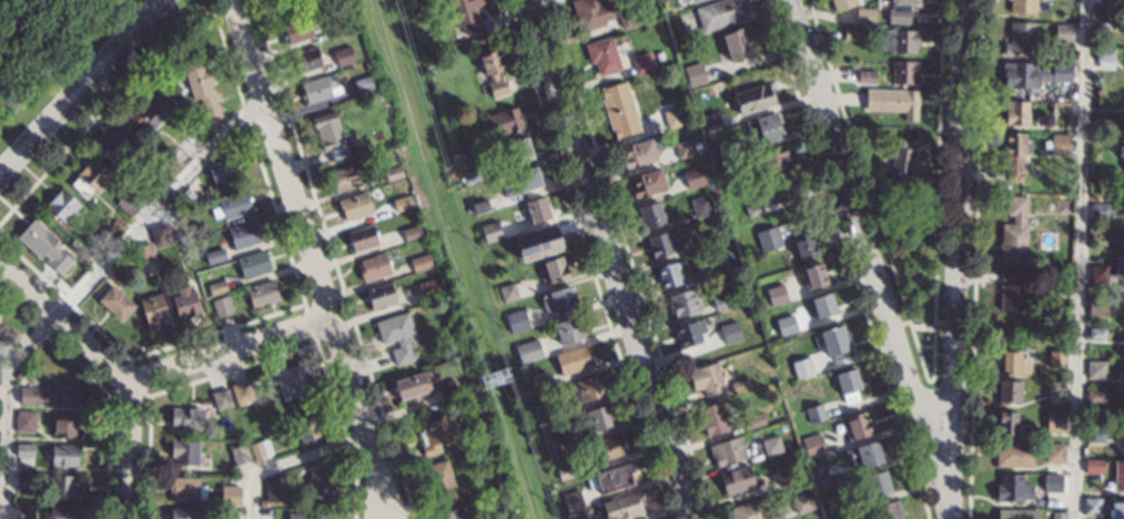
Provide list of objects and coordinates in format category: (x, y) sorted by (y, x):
building: (1105, 0)
building: (695, 1)
building: (416, 2)
building: (842, 3)
building: (1022, 6)
building: (900, 11)
building: (466, 13)
building: (590, 13)
building: (721, 13)
building: (864, 16)
building: (628, 18)
building: (1105, 22)
building: (335, 29)
building: (297, 30)
building: (1063, 32)
building: (852, 33)
building: (1020, 40)
building: (899, 41)
building: (736, 45)
building: (602, 55)
building: (344, 57)
building: (1105, 58)
building: (307, 60)
building: (642, 63)
building: (494, 72)
building: (904, 72)
building: (1032, 74)
building: (695, 75)
building: (867, 77)
building: (363, 84)
road: (80, 85)
building: (201, 86)
building: (318, 88)
building: (377, 95)
building: (753, 100)
building: (892, 101)
building: (1060, 108)
building: (619, 110)
building: (151, 112)
building: (1016, 112)
building: (675, 118)
building: (1108, 118)
building: (504, 122)
building: (712, 123)
building: (764, 129)
building: (330, 135)
building: (1055, 143)
building: (115, 144)
building: (1015, 144)
building: (463, 146)
building: (687, 147)
building: (520, 150)
building: (640, 152)
building: (718, 152)
building: (176, 154)
building: (1121, 154)
building: (776, 159)
building: (902, 164)
building: (165, 170)
building: (1013, 171)
building: (224, 173)
building: (393, 173)
building: (472, 176)
building: (91, 177)
building: (693, 177)
building: (344, 179)
building: (528, 180)
building: (648, 183)
building: (735, 183)
building: (781, 189)
building: (184, 196)
building: (130, 202)
building: (404, 203)
building: (235, 204)
building: (354, 206)
building: (480, 206)
building: (701, 206)
building: (62, 207)
building: (1098, 207)
building: (538, 210)
building: (755, 210)
building: (651, 214)
building: (117, 224)
building: (1014, 231)
building: (492, 232)
building: (411, 233)
building: (107, 234)
building: (160, 234)
building: (244, 234)
building: (362, 237)
building: (712, 238)
building: (769, 238)
building: (180, 240)
building: (536, 244)
building: (660, 244)
building: (44, 245)
road: (870, 246)
building: (806, 247)
building: (82, 252)
building: (143, 254)
building: (215, 255)
road: (311, 258)
road: (609, 259)
road: (954, 259)
road: (1079, 259)
building: (419, 263)
building: (253, 264)
building: (374, 266)
building: (1118, 266)
building: (556, 269)
building: (671, 273)
building: (1097, 274)
building: (703, 276)
building: (816, 276)
building: (119, 277)
road: (82, 287)
building: (217, 287)
building: (429, 289)
building: (508, 292)
building: (1013, 293)
building: (262, 294)
building: (381, 295)
building: (776, 295)
building: (559, 299)
building: (721, 302)
building: (115, 303)
building: (185, 303)
building: (683, 303)
building: (823, 305)
building: (222, 306)
building: (1097, 306)
building: (154, 311)
building: (517, 320)
building: (786, 324)
building: (797, 326)
building: (568, 330)
building: (730, 332)
building: (8, 333)
building: (690, 333)
building: (1096, 334)
building: (396, 336)
building: (833, 342)
building: (2, 348)
building: (528, 352)
building: (1056, 358)
building: (574, 359)
building: (1013, 362)
building: (802, 368)
building: (1096, 369)
building: (1123, 373)
building: (1061, 375)
building: (19, 376)
building: (707, 379)
building: (291, 380)
building: (1122, 380)
road: (146, 381)
building: (537, 383)
building: (848, 385)
building: (411, 386)
building: (740, 386)
building: (1056, 387)
building: (590, 388)
power tower: (494, 389)
building: (1010, 390)
building: (242, 391)
building: (448, 393)
building: (51, 396)
building: (1095, 396)
building: (222, 398)
building: (1055, 398)
building: (1121, 404)
building: (547, 413)
building: (816, 413)
building: (600, 417)
building: (1055, 417)
building: (186, 418)
building: (713, 418)
building: (26, 420)
building: (755, 420)
building: (1007, 423)
building: (67, 425)
building: (859, 425)
building: (308, 427)
building: (437, 432)
building: (1094, 432)
building: (557, 442)
building: (813, 445)
building: (771, 446)
building: (609, 447)
building: (261, 448)
building: (24, 449)
building: (184, 451)
building: (728, 451)
road: (129, 452)
building: (240, 454)
building: (865, 454)
building: (1054, 454)
building: (64, 455)
building: (1015, 455)
road: (291, 462)
building: (1094, 466)
building: (566, 471)
building: (786, 475)
building: (1118, 475)
building: (818, 476)
building: (612, 478)
building: (738, 480)
building: (23, 481)
building: (1053, 482)
building: (441, 484)
building: (878, 484)
building: (231, 485)
building: (322, 485)
building: (62, 486)
building: (184, 487)
building: (1011, 488)
building: (279, 492)
building: (573, 501)
building: (237, 502)
building: (802, 502)
building: (621, 506)
building: (841, 506)
building: (1091, 506)
road: (376, 509)
building: (753, 509)
building: (1116, 509)
building: (24, 511)
building: (887, 511)
building: (63, 512)
building: (183, 513)
building: (229, 513)
building: (1017, 513)
building: (453, 515)
building: (1057, 515)
building: (302, 516)

